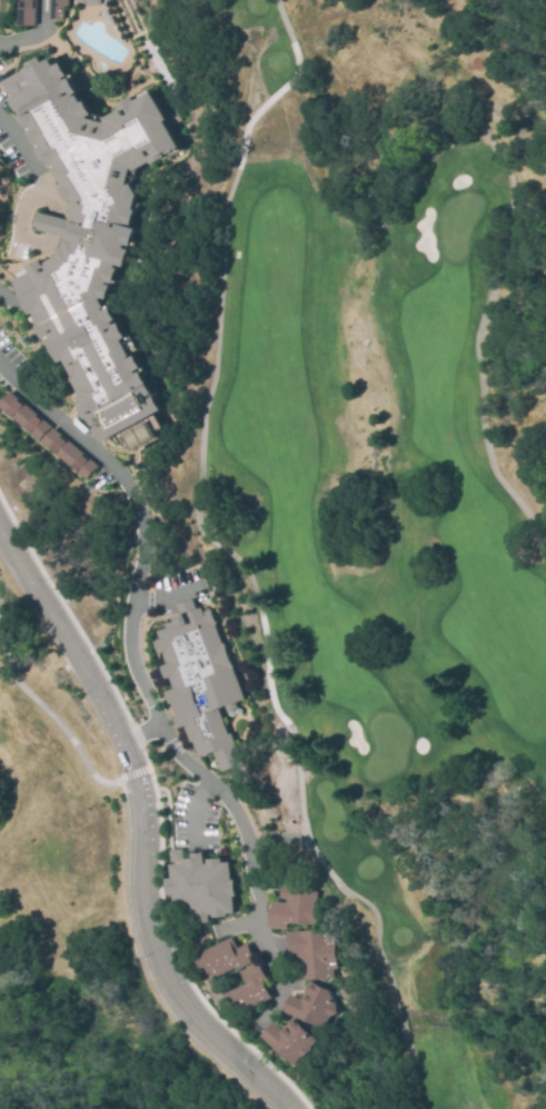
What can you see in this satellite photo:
building: (80, 0)
building: (93, 1)
building: (57, 8)
building: (26, 12)
road: (37, 33)
road: (19, 143)
road: (52, 202)
road: (23, 214)
road: (51, 224)
building: (53, 225)
building: (91, 239)
road: (11, 298)
building: (48, 436)
road: (129, 489)
park: (391, 506)
road: (238, 554)
building: (200, 680)
road: (141, 682)
road: (120, 778)
road: (198, 810)
road: (141, 821)
road: (241, 826)
building: (201, 889)
building: (294, 909)
building: (312, 951)
road: (270, 957)
building: (226, 959)
building: (254, 987)
building: (312, 1007)
building: (290, 1042)

